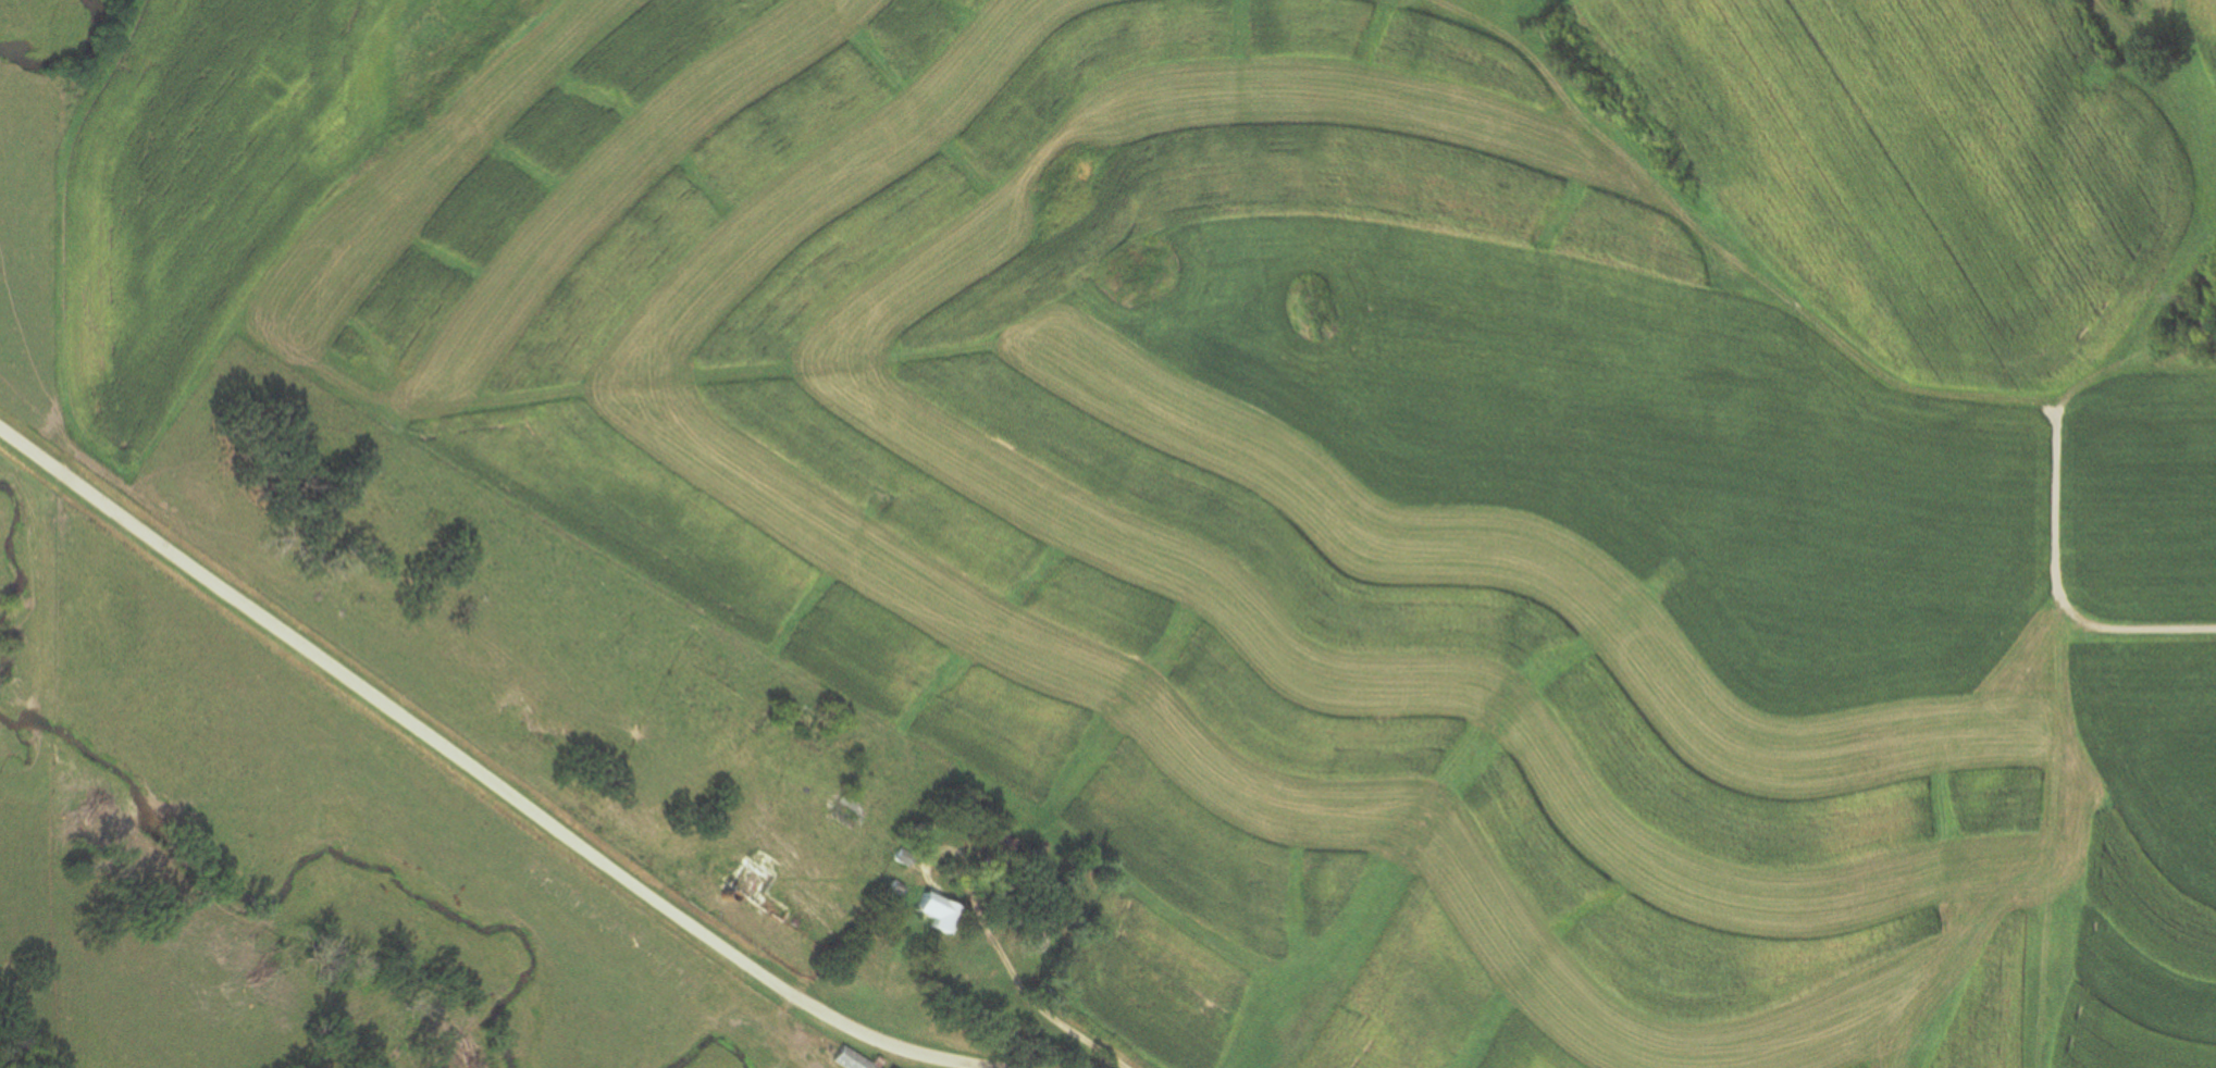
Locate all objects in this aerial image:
road: (2056, 578)
road: (482, 774)
building: (842, 811)
building: (759, 891)
building: (925, 912)
building: (1036, 942)
building: (846, 1059)

